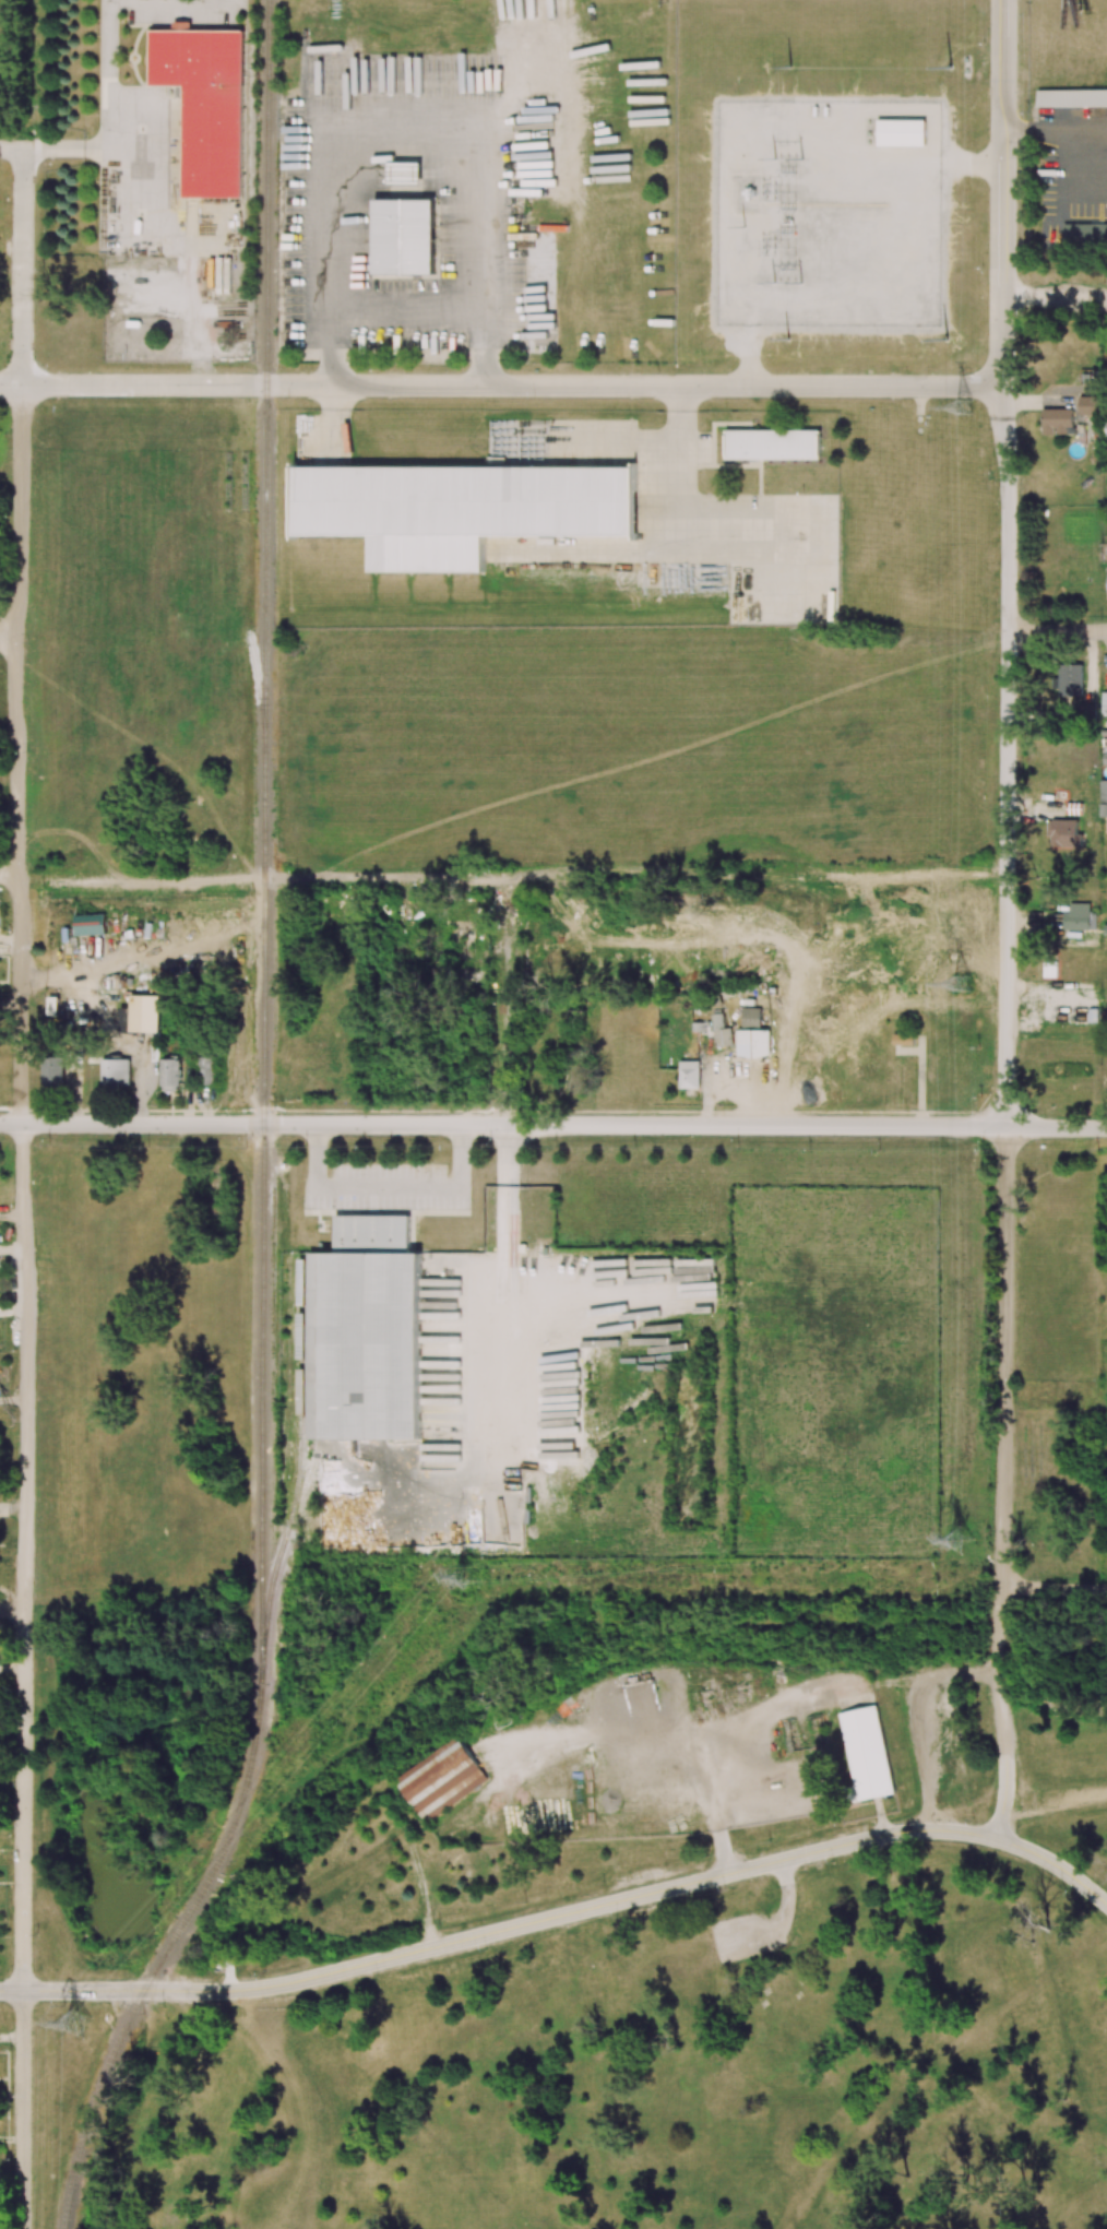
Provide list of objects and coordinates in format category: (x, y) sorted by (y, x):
road: (1003, 37)
street lamp: (984, 45)
power tower: (788, 67)
power tower: (950, 67)
park: (11, 69)
road: (114, 72)
building: (1072, 98)
building: (205, 104)
road: (1003, 118)
building: (902, 132)
road: (408, 133)
road: (1, 154)
power tower: (795, 157)
street lamp: (1019, 157)
road: (158, 162)
building: (405, 173)
power substation: (830, 214)
road: (1002, 228)
building: (1085, 235)
building: (404, 236)
street lamp: (983, 268)
power tower: (794, 282)
road: (1054, 301)
power tower: (947, 337)
power tower: (787, 340)
street lamp: (908, 371)
road: (501, 386)
building: (1088, 405)
power tower: (966, 407)
building: (1058, 422)
building: (1106, 428)
road: (585, 442)
building: (773, 444)
street lamp: (989, 473)
building: (461, 509)
road: (675, 535)
street lamp: (1024, 616)
road: (1057, 631)
road: (9, 635)
building: (1071, 679)
building: (1104, 702)
road: (1008, 710)
street lamp: (1021, 766)
building: (1104, 791)
building: (1104, 809)
railway: (266, 827)
building: (1064, 833)
road: (544, 875)
road: (9, 877)
building: (1080, 917)
building: (90, 924)
building: (1106, 928)
street lamp: (1020, 947)
power tower: (963, 984)
road: (10, 1000)
road: (509, 1000)
building: (145, 1012)
building: (751, 1017)
building: (1105, 1018)
building: (721, 1031)
building: (903, 1039)
building: (753, 1043)
building: (206, 1070)
road: (21, 1071)
building: (115, 1072)
building: (52, 1074)
building: (689, 1074)
building: (169, 1075)
road: (503, 1125)
road: (1056, 1127)
street lamp: (250, 1139)
street lamp: (50, 1143)
street lamp: (489, 1146)
street lamp: (737, 1147)
street lamp: (983, 1150)
street lamp: (432, 1161)
street lamp: (347, 1162)
road: (390, 1186)
building: (366, 1332)
railway: (300, 1460)
road: (1002, 1484)
power tower: (960, 1540)
power tower: (465, 1578)
road: (1054, 1589)
road: (12, 1612)
park: (359, 1691)
building: (867, 1753)
building: (441, 1779)
park: (124, 1823)
road: (1055, 1865)
road: (616, 1901)
railway: (174, 1943)
park: (662, 1965)
road: (12, 1991)
road: (131, 1991)
power tower: (75, 2023)
road: (12, 2037)
road: (23, 2110)

